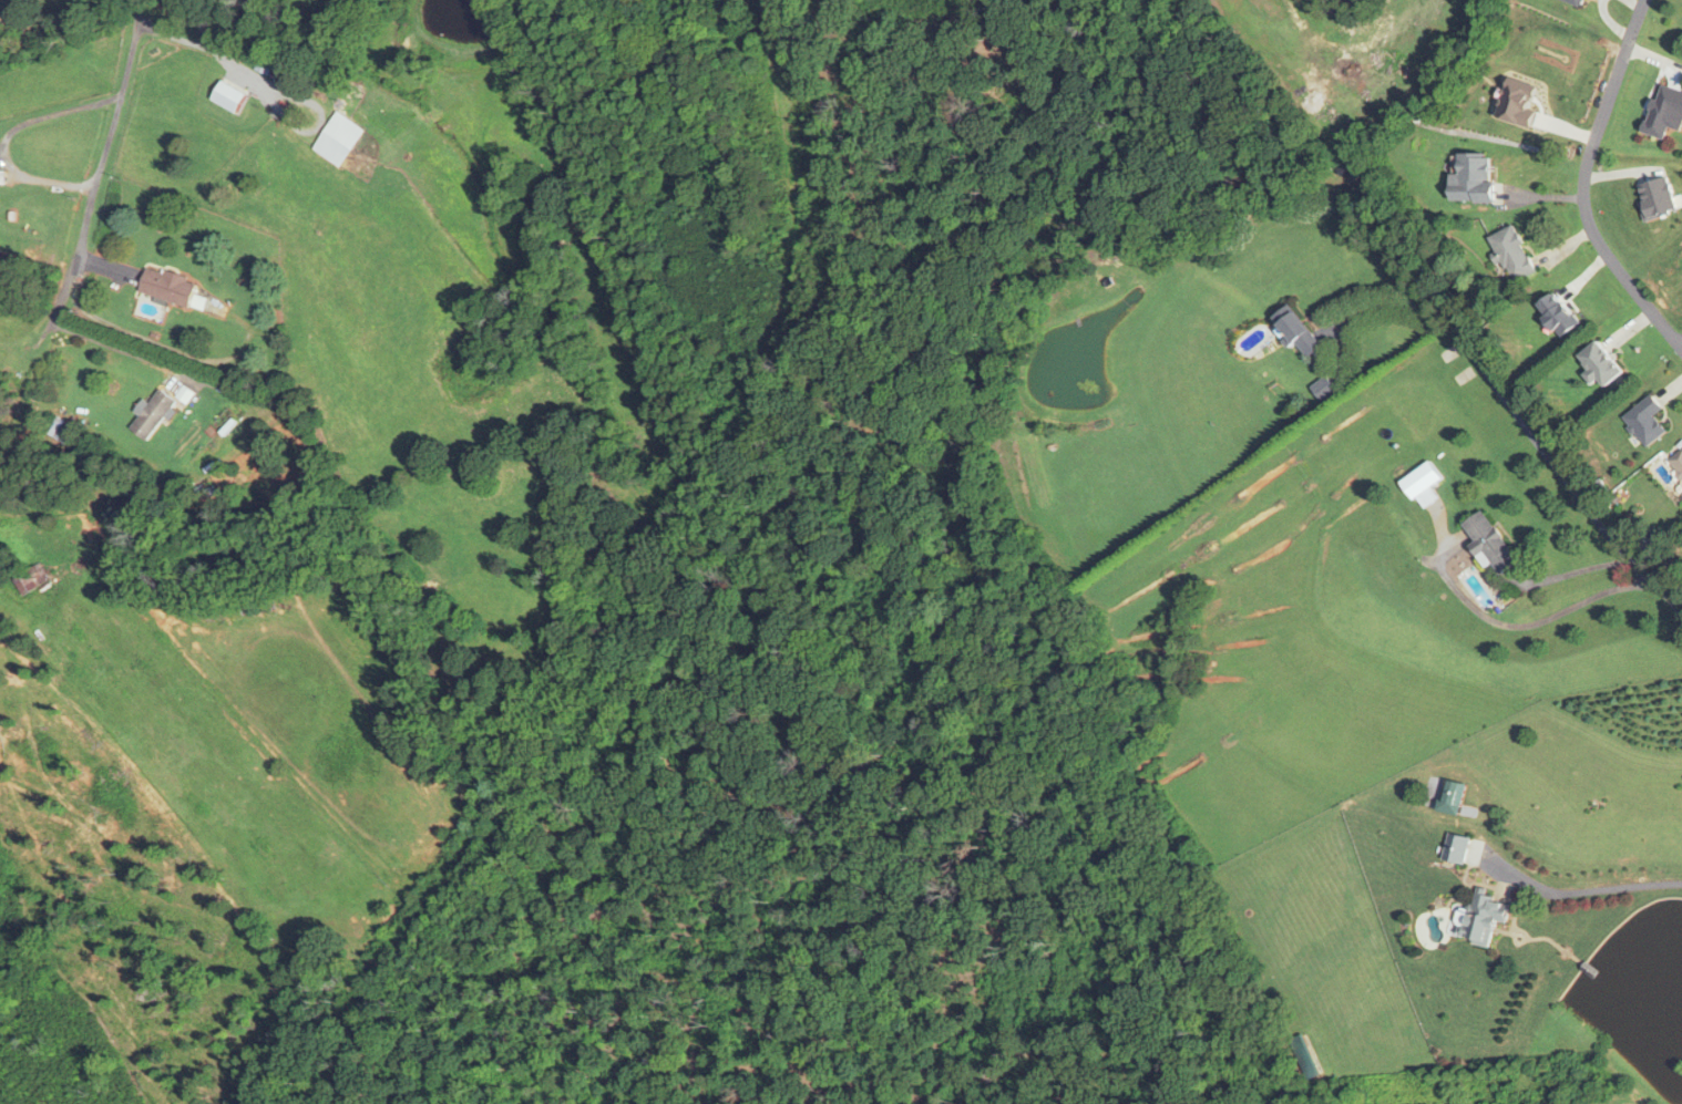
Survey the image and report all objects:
building: (1576, 2)
building: (264, 64)
road: (267, 83)
building: (1664, 112)
road: (6, 138)
building: (349, 138)
road: (102, 154)
building: (1471, 177)
road: (1584, 184)
building: (1658, 199)
building: (1510, 254)
building: (167, 287)
road: (1383, 306)
building: (1557, 314)
building: (1298, 332)
building: (1600, 363)
building: (1323, 389)
building: (153, 414)
building: (1644, 421)
building: (60, 431)
building: (1676, 463)
road: (1555, 468)
building: (1423, 484)
building: (1681, 493)
building: (1489, 545)
road: (1572, 572)
building: (29, 579)
building: (1455, 847)
road: (1598, 888)
building: (1483, 918)

